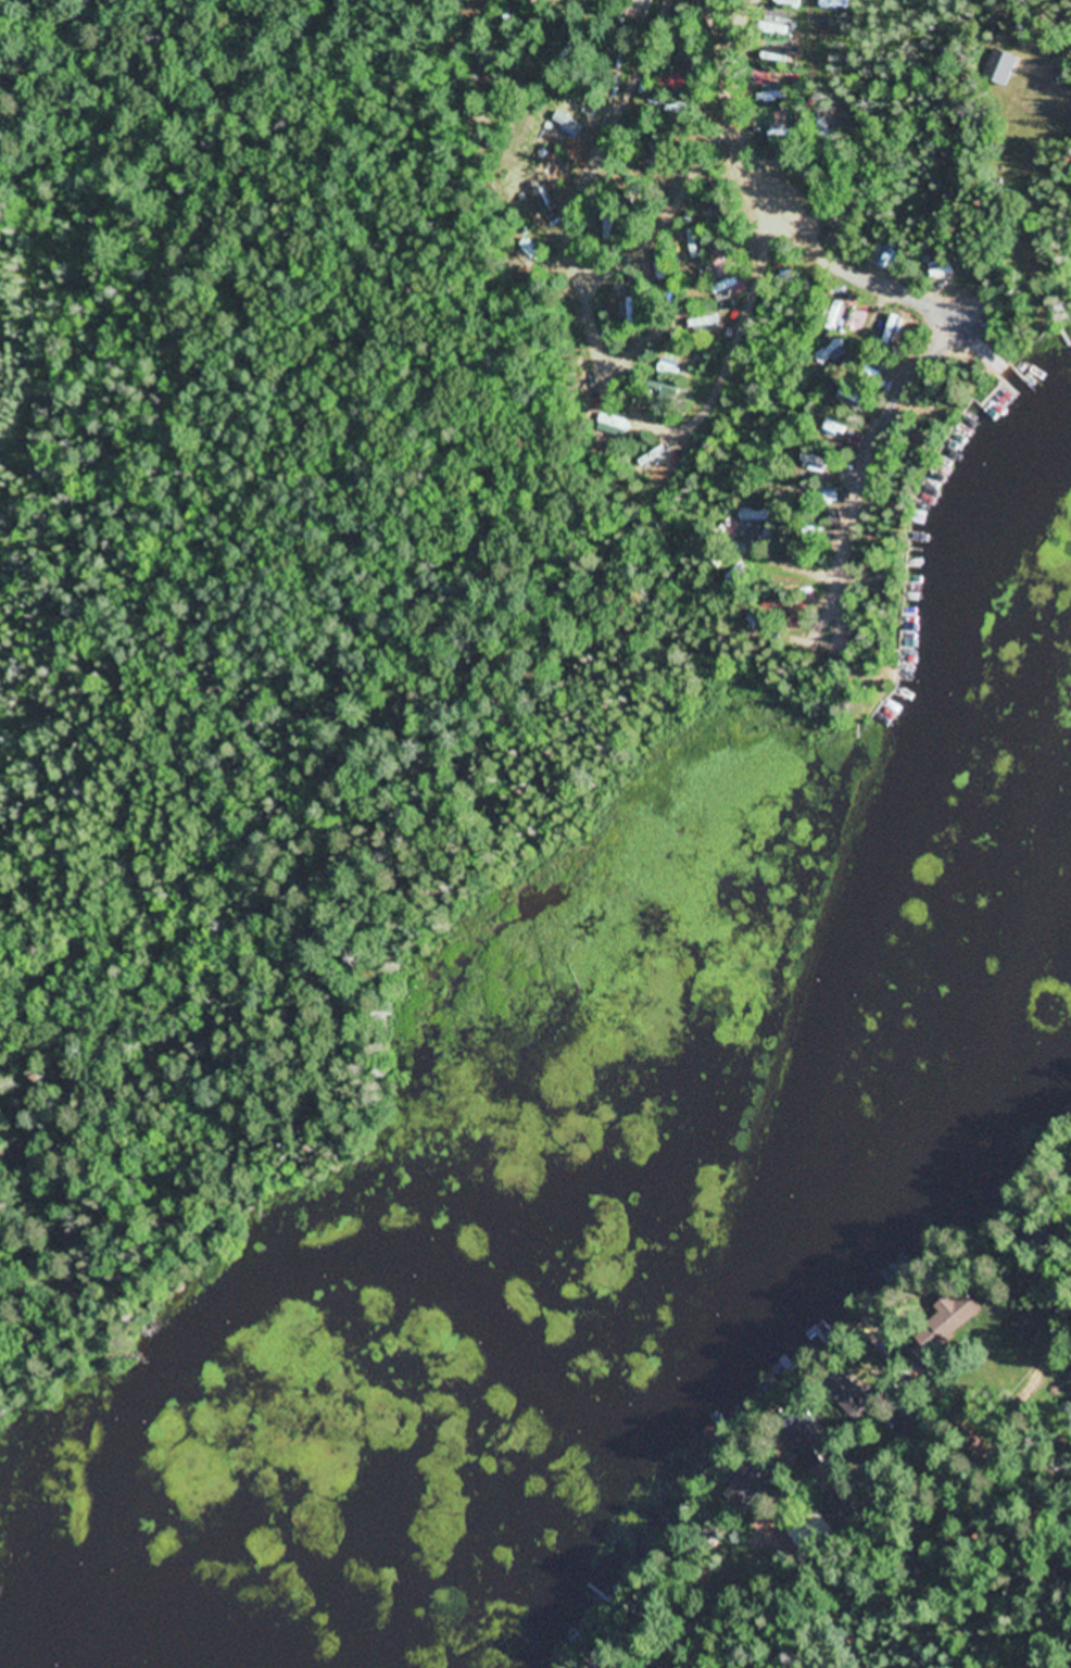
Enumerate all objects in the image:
building: (1001, 68)
road: (188, 116)
building: (539, 199)
road: (797, 229)
building: (694, 248)
building: (726, 285)
river: (609, 1199)
building: (959, 1315)
building: (1026, 1327)
building: (755, 1487)
road: (1057, 1517)

